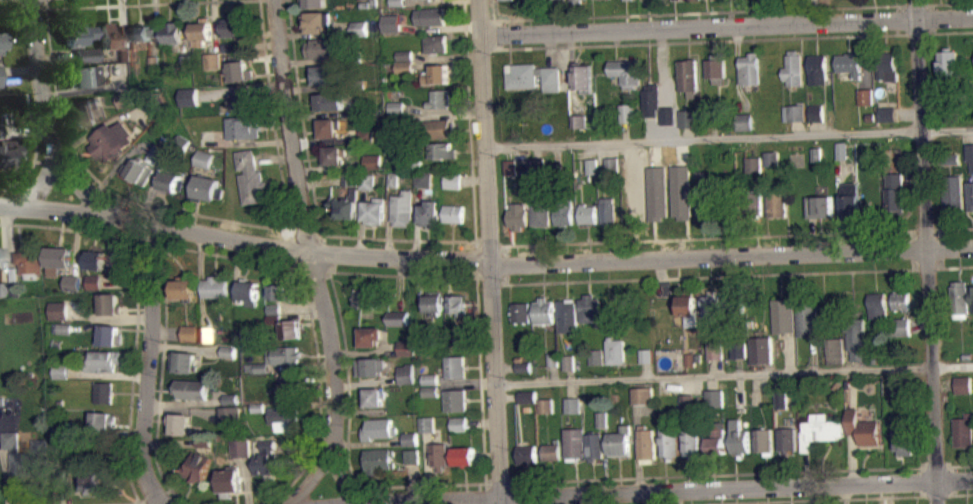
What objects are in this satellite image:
building: (721, 0)
building: (766, 0)
building: (577, 1)
building: (650, 1)
building: (398, 2)
building: (432, 2)
building: (603, 2)
building: (626, 2)
building: (675, 2)
building: (696, 2)
building: (316, 3)
building: (375, 3)
building: (507, 3)
building: (532, 3)
building: (555, 3)
road: (943, 3)
road: (140, 4)
building: (366, 4)
road: (16, 10)
road: (703, 12)
building: (431, 16)
building: (318, 21)
building: (392, 22)
road: (494, 24)
road: (727, 25)
building: (234, 26)
building: (360, 27)
building: (201, 31)
building: (142, 32)
building: (172, 32)
road: (944, 32)
building: (78, 33)
building: (360, 34)
building: (109, 35)
building: (1, 41)
road: (699, 41)
building: (436, 42)
building: (230, 47)
building: (323, 48)
building: (124, 54)
building: (405, 54)
building: (86, 55)
building: (212, 60)
building: (153, 62)
building: (849, 63)
building: (948, 63)
building: (405, 66)
building: (716, 68)
building: (750, 68)
building: (793, 68)
building: (818, 68)
building: (154, 69)
building: (888, 69)
building: (241, 71)
building: (627, 72)
building: (405, 73)
building: (326, 74)
building: (439, 74)
building: (0, 75)
building: (83, 75)
building: (533, 76)
building: (583, 76)
building: (688, 76)
building: (358, 83)
road: (240, 87)
road: (317, 87)
building: (189, 96)
building: (866, 96)
building: (125, 99)
building: (439, 99)
building: (651, 99)
building: (242, 100)
building: (329, 101)
building: (397, 107)
road: (444, 109)
building: (88, 111)
building: (627, 112)
building: (795, 112)
building: (817, 112)
building: (397, 114)
building: (887, 114)
road: (311, 115)
building: (667, 115)
building: (714, 115)
building: (870, 116)
road: (302, 117)
building: (689, 118)
road: (469, 121)
building: (579, 121)
building: (744, 121)
road: (48, 122)
building: (243, 128)
building: (326, 128)
building: (441, 128)
building: (0, 130)
road: (946, 130)
building: (366, 136)
building: (208, 138)
road: (703, 138)
building: (111, 140)
building: (183, 141)
building: (842, 149)
building: (441, 150)
road: (610, 150)
building: (7, 152)
building: (158, 152)
building: (817, 153)
building: (970, 153)
building: (333, 155)
building: (772, 157)
building: (204, 158)
building: (951, 158)
building: (156, 161)
building: (818, 161)
building: (373, 162)
road: (33, 163)
building: (417, 163)
building: (753, 163)
road: (843, 163)
building: (612, 164)
building: (537, 165)
building: (591, 165)
building: (772, 165)
building: (952, 165)
building: (510, 167)
building: (138, 170)
building: (754, 171)
building: (251, 178)
building: (393, 178)
building: (423, 178)
building: (351, 179)
road: (319, 180)
building: (367, 180)
building: (452, 180)
building: (172, 181)
road: (41, 184)
building: (350, 186)
building: (453, 187)
building: (206, 188)
building: (367, 188)
building: (895, 192)
building: (951, 192)
building: (970, 194)
building: (776, 199)
building: (850, 200)
road: (840, 201)
building: (753, 202)
building: (706, 203)
building: (345, 206)
building: (540, 206)
building: (820, 206)
building: (402, 208)
building: (636, 210)
building: (374, 211)
building: (563, 211)
building: (607, 211)
building: (453, 213)
building: (587, 213)
building: (429, 214)
building: (705, 214)
building: (517, 215)
road: (215, 217)
road: (361, 221)
road: (949, 227)
road: (305, 233)
road: (811, 234)
road: (715, 236)
road: (397, 238)
road: (489, 243)
road: (293, 250)
road: (927, 251)
road: (324, 252)
road: (490, 252)
road: (307, 253)
road: (222, 255)
building: (96, 257)
building: (57, 259)
road: (475, 259)
building: (29, 261)
road: (484, 261)
road: (505, 264)
building: (0, 265)
road: (950, 266)
road: (314, 270)
road: (402, 274)
road: (484, 276)
road: (708, 276)
building: (72, 282)
building: (94, 282)
building: (217, 287)
building: (661, 287)
building: (183, 288)
building: (4, 289)
building: (283, 291)
building: (972, 291)
building: (250, 292)
building: (961, 296)
building: (280, 298)
building: (367, 298)
building: (899, 300)
building: (434, 302)
building: (108, 303)
building: (733, 303)
road: (136, 304)
building: (456, 304)
building: (709, 305)
building: (876, 305)
building: (274, 308)
building: (589, 308)
building: (688, 308)
building: (57, 310)
building: (544, 310)
building: (520, 311)
building: (781, 315)
building: (567, 316)
building: (398, 317)
building: (275, 318)
building: (805, 318)
building: (398, 324)
building: (899, 326)
building: (61, 328)
building: (291, 328)
building: (190, 332)
building: (109, 334)
building: (208, 334)
building: (63, 335)
building: (369, 335)
building: (854, 336)
road: (187, 347)
building: (406, 347)
building: (832, 347)
building: (737, 348)
building: (759, 348)
building: (229, 350)
building: (614, 350)
building: (714, 350)
road: (365, 351)
building: (285, 354)
building: (406, 354)
building: (644, 355)
building: (966, 355)
building: (595, 356)
building: (229, 358)
building: (691, 358)
building: (551, 359)
building: (738, 359)
building: (102, 360)
building: (185, 361)
building: (567, 361)
building: (645, 362)
road: (148, 365)
building: (283, 365)
building: (456, 365)
road: (300, 366)
building: (370, 366)
building: (523, 366)
building: (257, 367)
building: (568, 369)
building: (61, 370)
building: (406, 373)
building: (524, 373)
road: (734, 373)
road: (108, 374)
building: (60, 378)
building: (430, 378)
road: (467, 380)
road: (481, 380)
building: (897, 381)
building: (962, 384)
building: (290, 387)
building: (193, 388)
building: (430, 391)
building: (102, 392)
building: (641, 395)
building: (526, 396)
building: (373, 397)
building: (713, 397)
building: (230, 398)
building: (431, 398)
building: (780, 398)
building: (456, 400)
building: (686, 402)
building: (527, 403)
building: (544, 404)
building: (232, 405)
building: (572, 405)
building: (545, 412)
building: (230, 414)
building: (285, 418)
building: (601, 418)
building: (103, 421)
building: (181, 423)
building: (427, 424)
building: (459, 424)
building: (602, 426)
building: (63, 427)
building: (863, 427)
building: (379, 428)
building: (819, 430)
building: (963, 430)
building: (739, 437)
building: (410, 438)
building: (787, 438)
road: (348, 439)
building: (668, 439)
building: (692, 440)
building: (763, 440)
building: (620, 441)
building: (905, 441)
building: (574, 442)
building: (645, 442)
building: (716, 442)
building: (411, 445)
building: (241, 446)
building: (593, 446)
building: (552, 451)
building: (526, 454)
building: (412, 455)
building: (439, 455)
building: (464, 455)
building: (27, 456)
building: (266, 457)
building: (378, 460)
building: (412, 462)
road: (955, 465)
building: (197, 468)
road: (719, 473)
road: (312, 474)
building: (230, 478)
building: (99, 480)
road: (493, 482)
road: (652, 490)
road: (163, 492)
road: (147, 498)
road: (833, 498)
road: (124, 503)
building: (833, 503)

